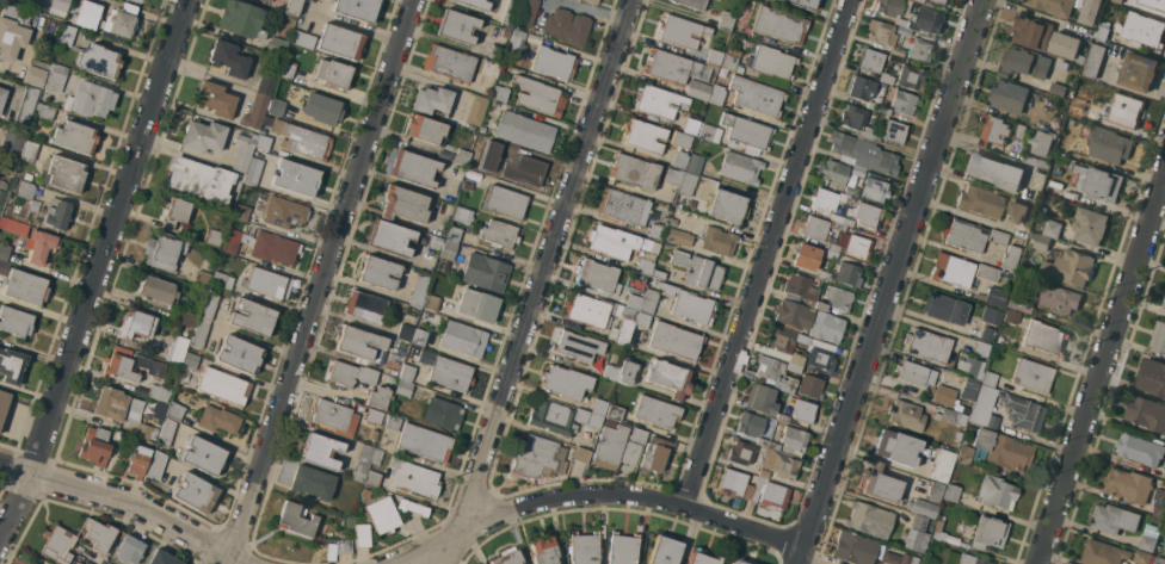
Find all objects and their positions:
building: (29, 0)
building: (571, 0)
building: (574, 0)
building: (1118, 0)
building: (135, 1)
building: (266, 1)
building: (590, 1)
building: (921, 1)
building: (942, 1)
building: (474, 4)
building: (691, 4)
building: (801, 4)
building: (1154, 4)
building: (1053, 6)
building: (58, 7)
building: (292, 7)
building: (356, 10)
building: (890, 10)
building: (1090, 11)
building: (510, 12)
building: (526, 12)
building: (86, 16)
building: (739, 16)
building: (241, 19)
building: (931, 19)
building: (725, 20)
building: (118, 23)
building: (779, 25)
building: (456, 26)
building: (566, 26)
building: (912, 26)
building: (1142, 29)
building: (505, 31)
building: (680, 31)
building: (904, 31)
building: (1033, 31)
building: (13, 32)
building: (1102, 32)
building: (66, 36)
building: (882, 36)
building: (302, 39)
building: (339, 42)
building: (516, 45)
building: (1070, 45)
building: (276, 47)
building: (920, 49)
building: (714, 57)
building: (228, 58)
building: (894, 58)
building: (1093, 60)
building: (98, 61)
building: (728, 62)
building: (772, 62)
building: (1024, 62)
building: (449, 63)
building: (554, 63)
building: (874, 64)
building: (676, 67)
building: (489, 69)
building: (288, 70)
building: (1139, 70)
building: (33, 73)
building: (332, 73)
building: (54, 76)
building: (910, 78)
building: (861, 88)
building: (1058, 88)
building: (1096, 88)
building: (698, 89)
building: (499, 93)
building: (716, 94)
building: (1, 95)
building: (756, 95)
building: (1009, 95)
building: (538, 97)
building: (260, 98)
building: (91, 99)
building: (215, 99)
building: (432, 99)
building: (659, 101)
building: (902, 103)
building: (24, 106)
building: (874, 106)
building: (276, 107)
building: (321, 109)
building: (1084, 109)
building: (475, 110)
building: (884, 110)
building: (1126, 110)
building: (43, 111)
building: (852, 117)
building: (1054, 124)
building: (691, 126)
building: (424, 129)
building: (993, 130)
building: (1021, 130)
building: (524, 131)
building: (894, 131)
building: (709, 132)
building: (747, 132)
building: (864, 132)
building: (202, 136)
building: (73, 137)
building: (645, 137)
building: (875, 137)
building: (301, 140)
building: (680, 140)
building: (261, 142)
building: (1041, 142)
building: (1109, 144)
building: (8, 147)
building: (1065, 147)
building: (27, 150)
building: (242, 151)
building: (862, 153)
building: (461, 157)
building: (477, 159)
building: (679, 160)
building: (1037, 161)
building: (695, 163)
building: (516, 167)
building: (412, 168)
building: (739, 168)
building: (252, 171)
building: (857, 171)
building: (994, 171)
building: (634, 172)
building: (833, 172)
building: (63, 174)
building: (26, 175)
building: (674, 176)
building: (295, 178)
building: (199, 179)
building: (1098, 182)
building: (686, 184)
building: (2, 185)
building: (466, 186)
building: (874, 190)
building: (25, 191)
building: (851, 191)
building: (1, 196)
building: (825, 199)
building: (504, 202)
building: (980, 202)
building: (402, 204)
building: (726, 206)
building: (624, 207)
building: (173, 211)
building: (1016, 211)
building: (241, 212)
building: (283, 212)
building: (56, 213)
building: (462, 215)
building: (868, 215)
building: (836, 218)
building: (672, 222)
building: (846, 222)
building: (1090, 225)
building: (12, 227)
building: (838, 227)
building: (1052, 228)
building: (657, 231)
building: (819, 231)
building: (451, 233)
building: (499, 234)
building: (1033, 234)
building: (966, 236)
building: (212, 237)
building: (389, 237)
building: (679, 237)
building: (998, 237)
building: (234, 241)
building: (719, 241)
building: (617, 242)
building: (1042, 242)
building: (38, 244)
building: (272, 247)
building: (856, 247)
building: (448, 249)
building: (162, 250)
building: (4, 252)
road: (768, 253)
building: (806, 256)
building: (831, 256)
building: (1009, 258)
building: (4, 267)
building: (643, 267)
building: (1070, 267)
building: (698, 269)
building: (951, 269)
building: (377, 272)
building: (987, 272)
road: (99, 273)
building: (485, 273)
building: (657, 274)
building: (824, 274)
building: (847, 274)
building: (597, 275)
building: (201, 279)
building: (221, 280)
road: (886, 281)
building: (266, 283)
road: (322, 283)
road: (544, 283)
building: (24, 287)
building: (800, 289)
building: (155, 291)
building: (418, 291)
building: (994, 296)
building: (1054, 297)
building: (834, 299)
building: (432, 300)
building: (633, 302)
building: (648, 302)
building: (1164, 302)
building: (689, 304)
building: (1017, 304)
building: (476, 305)
building: (208, 306)
building: (365, 306)
building: (944, 308)
building: (592, 310)
building: (793, 315)
building: (991, 315)
building: (1011, 316)
building: (187, 317)
building: (252, 317)
building: (642, 320)
building: (14, 321)
building: (135, 324)
building: (825, 327)
building: (622, 331)
building: (199, 333)
building: (403, 333)
building: (987, 335)
building: (1159, 335)
building: (419, 336)
building: (1044, 337)
building: (463, 339)
building: (778, 340)
building: (674, 341)
building: (358, 342)
building: (577, 346)
building: (927, 346)
building: (980, 348)
building: (177, 349)
building: (816, 352)
building: (238, 354)
building: (802, 354)
building: (378, 357)
building: (190, 360)
building: (795, 360)
building: (11, 365)
building: (128, 366)
building: (793, 367)
building: (970, 367)
building: (444, 371)
building: (406, 372)
building: (610, 372)
road: (1102, 372)
building: (625, 373)
building: (772, 373)
building: (914, 373)
building: (349, 374)
building: (1153, 374)
building: (1031, 376)
building: (668, 378)
building: (988, 378)
building: (566, 383)
building: (222, 386)
building: (809, 386)
building: (402, 388)
building: (969, 389)
building: (158, 392)
building: (942, 395)
building: (377, 397)
building: (760, 399)
building: (4, 403)
building: (117, 405)
building: (598, 407)
building: (960, 408)
building: (984, 408)
building: (161, 410)
building: (174, 410)
building: (655, 411)
building: (1146, 411)
building: (614, 413)
building: (1023, 413)
building: (442, 414)
building: (797, 414)
building: (905, 415)
building: (374, 416)
building: (950, 416)
building: (334, 417)
building: (561, 417)
building: (217, 420)
building: (392, 422)
building: (750, 424)
building: (146, 432)
building: (166, 432)
building: (119, 435)
building: (794, 439)
building: (424, 442)
building: (762, 442)
building: (609, 446)
building: (633, 446)
building: (773, 446)
building: (94, 447)
building: (896, 447)
building: (1141, 448)
building: (1001, 450)
building: (319, 451)
building: (740, 453)
building: (579, 454)
building: (654, 454)
building: (963, 454)
building: (202, 455)
building: (537, 458)
building: (137, 460)
building: (155, 465)
building: (366, 465)
building: (781, 465)
building: (943, 466)
building: (764, 473)
building: (413, 478)
building: (1164, 478)
building: (304, 479)
building: (734, 484)
building: (880, 484)
building: (1127, 484)
building: (757, 488)
building: (935, 491)
building: (193, 492)
building: (996, 492)
building: (364, 494)
building: (951, 494)
building: (773, 496)
road: (590, 497)
building: (1160, 498)
road: (123, 506)
building: (921, 507)
building: (412, 508)
building: (381, 515)
building: (1115, 517)
building: (295, 520)
building: (868, 520)
building: (918, 522)
building: (937, 531)
building: (987, 532)
building: (98, 534)
building: (360, 534)
building: (1151, 537)
building: (914, 540)
building: (57, 544)
building: (343, 546)
building: (582, 548)
building: (622, 548)
building: (856, 548)
building: (128, 550)
building: (542, 550)
building: (664, 550)
building: (329, 551)
building: (1103, 552)
building: (506, 557)
building: (1142, 557)
building: (161, 558)
building: (701, 558)
building: (898, 558)
building: (970, 559)
building: (1159, 559)
building: (736, 562)
building: (29, 563)
building: (32, 563)
building: (76, 563)
building: (107, 563)

